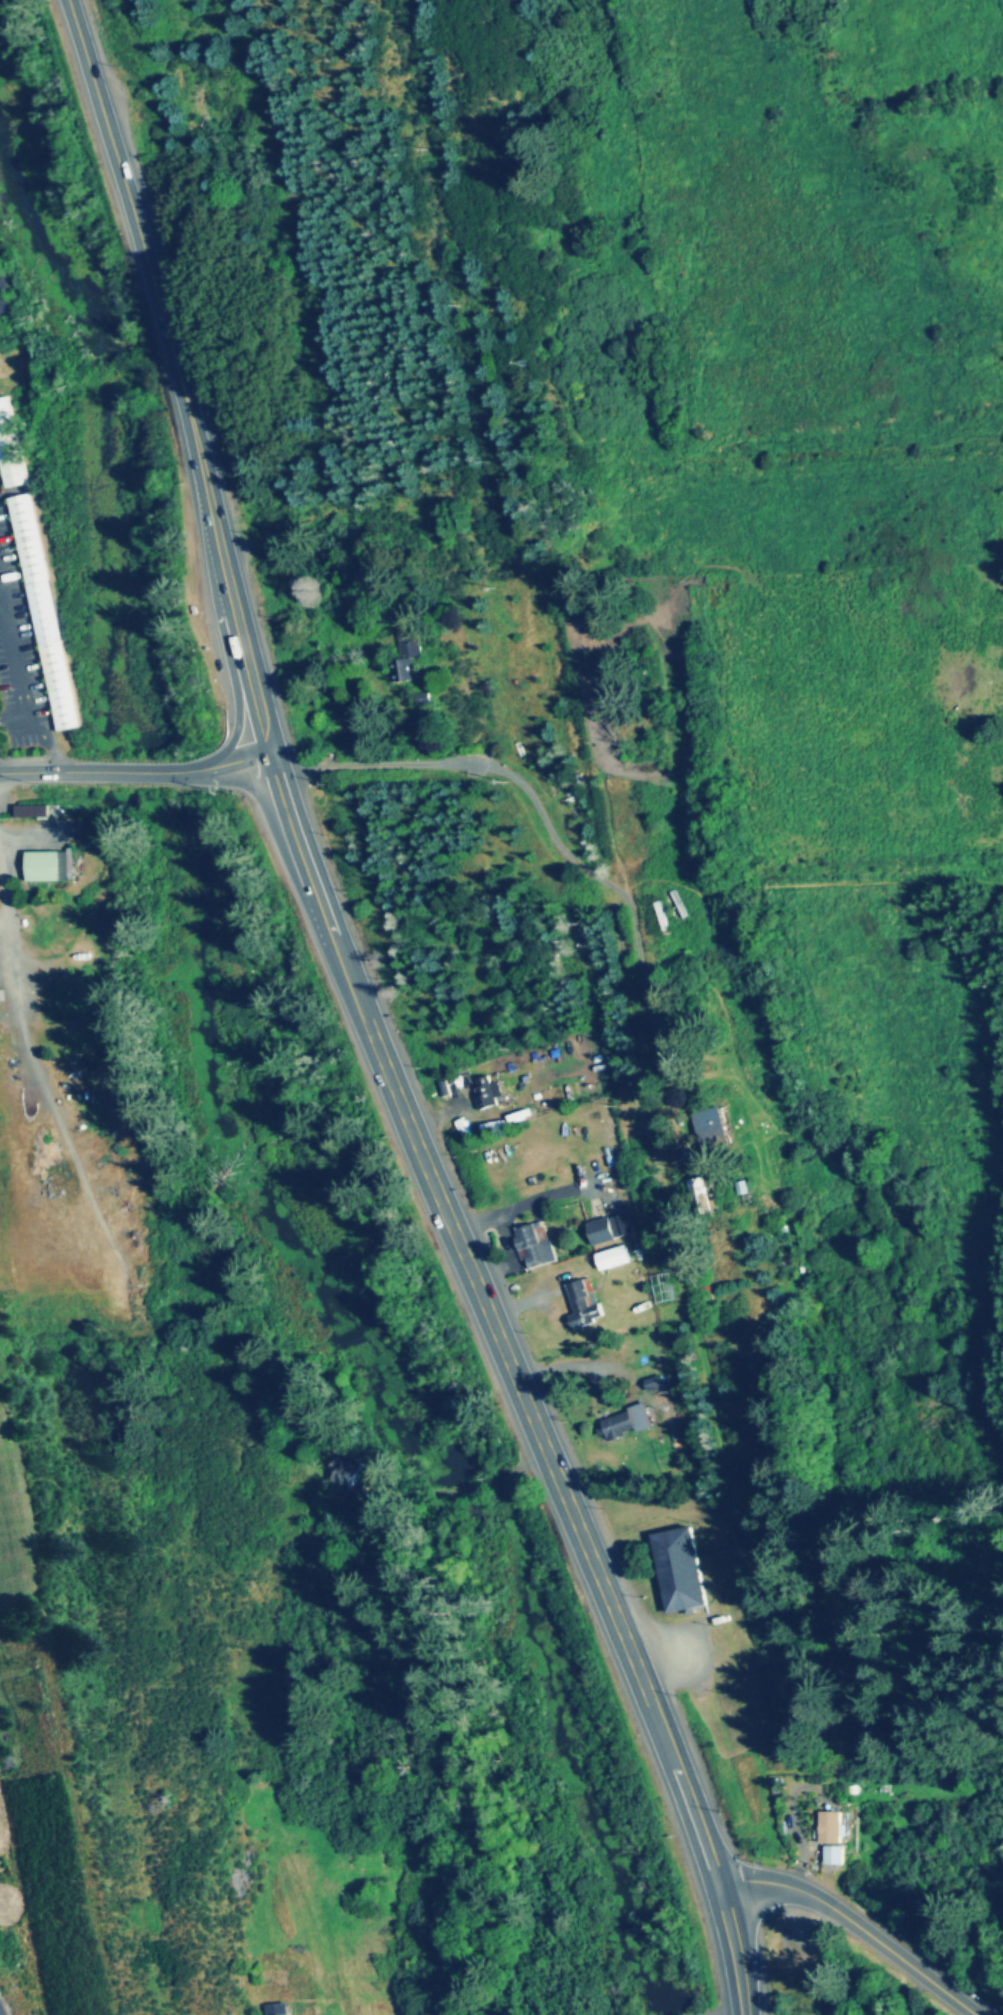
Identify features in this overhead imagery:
building: (5, 285)
building: (11, 445)
railway: (523, 451)
road: (436, 544)
building: (45, 612)
building: (410, 654)
road: (20, 683)
road: (13, 717)
road: (473, 766)
road: (135, 772)
building: (47, 866)
road: (371, 1020)
road: (642, 1043)
building: (490, 1091)
building: (700, 1195)
road: (540, 1198)
building: (611, 1229)
building: (537, 1244)
building: (614, 1258)
building: (585, 1302)
building: (628, 1422)
building: (349, 1471)
building: (680, 1569)
railway: (738, 1599)
building: (832, 1827)
building: (836, 1858)
road: (859, 1925)
building: (275, 2009)

